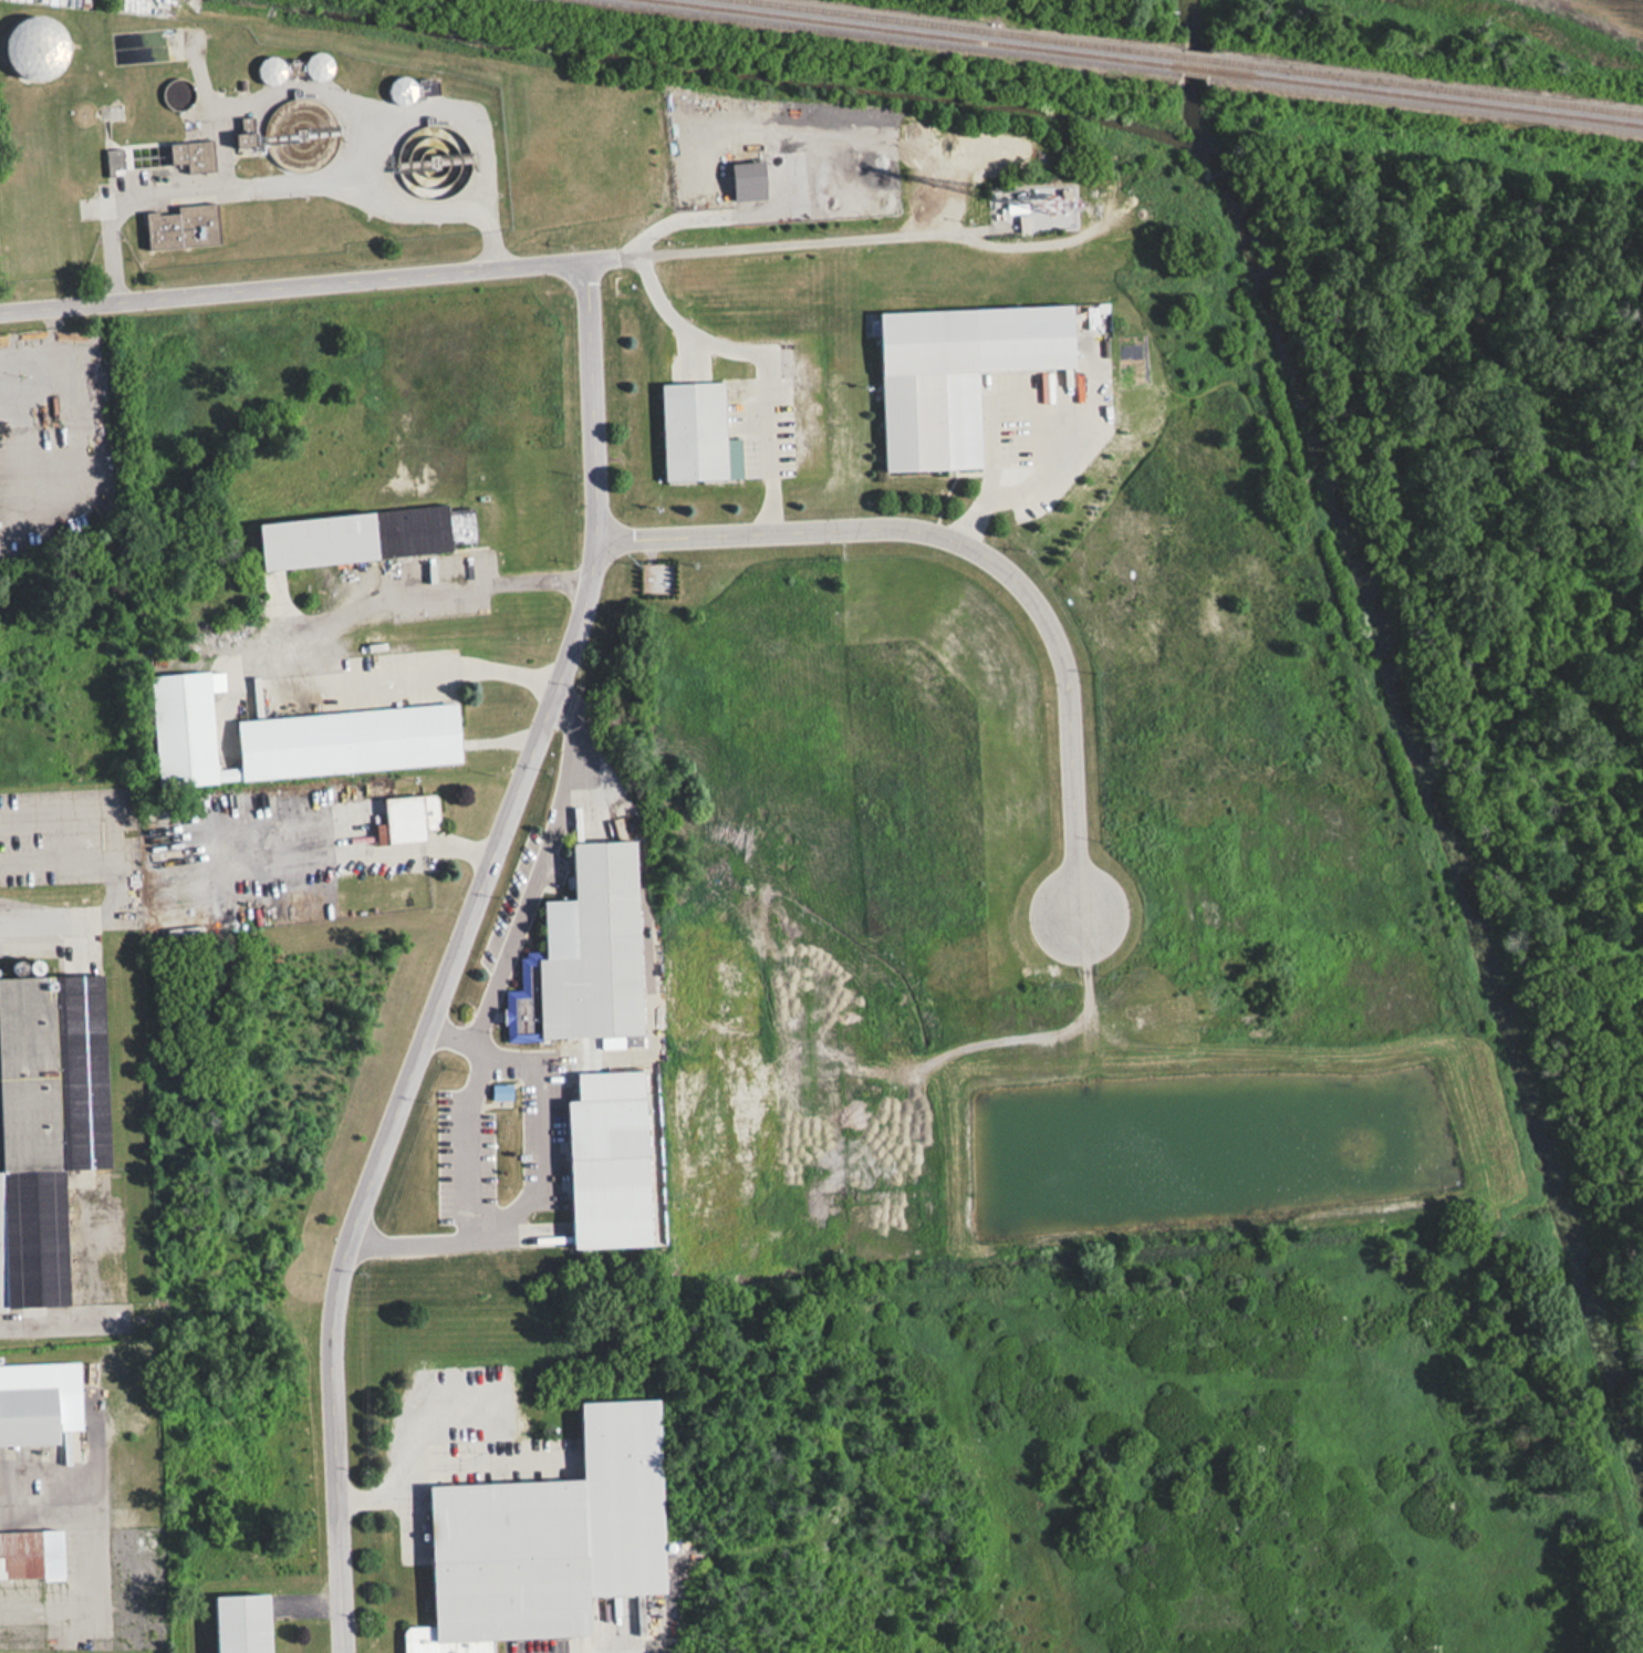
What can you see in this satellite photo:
railway: (967, 27)
railway: (924, 32)
building: (34, 46)
railway: (1195, 55)
railway: (1194, 65)
building: (318, 66)
building: (271, 70)
railway: (1426, 84)
building: (402, 89)
railway: (1426, 95)
building: (295, 150)
building: (194, 155)
building: (114, 159)
building: (422, 170)
building: (749, 180)
road: (279, 186)
building: (1016, 207)
road: (708, 209)
building: (183, 226)
road: (464, 269)
road: (757, 356)
building: (957, 375)
building: (697, 433)
road: (1054, 450)
building: (364, 536)
road: (982, 553)
building: (655, 578)
road: (254, 635)
building: (292, 736)
building: (409, 818)
road: (353, 846)
road: (539, 870)
road: (32, 916)
road: (455, 954)
building: (585, 954)
building: (48, 1125)
road: (539, 1168)
building: (610, 1173)
road: (56, 1320)
building: (38, 1402)
road: (434, 1464)
road: (43, 1512)
building: (548, 1540)
building: (31, 1553)
building: (242, 1622)

